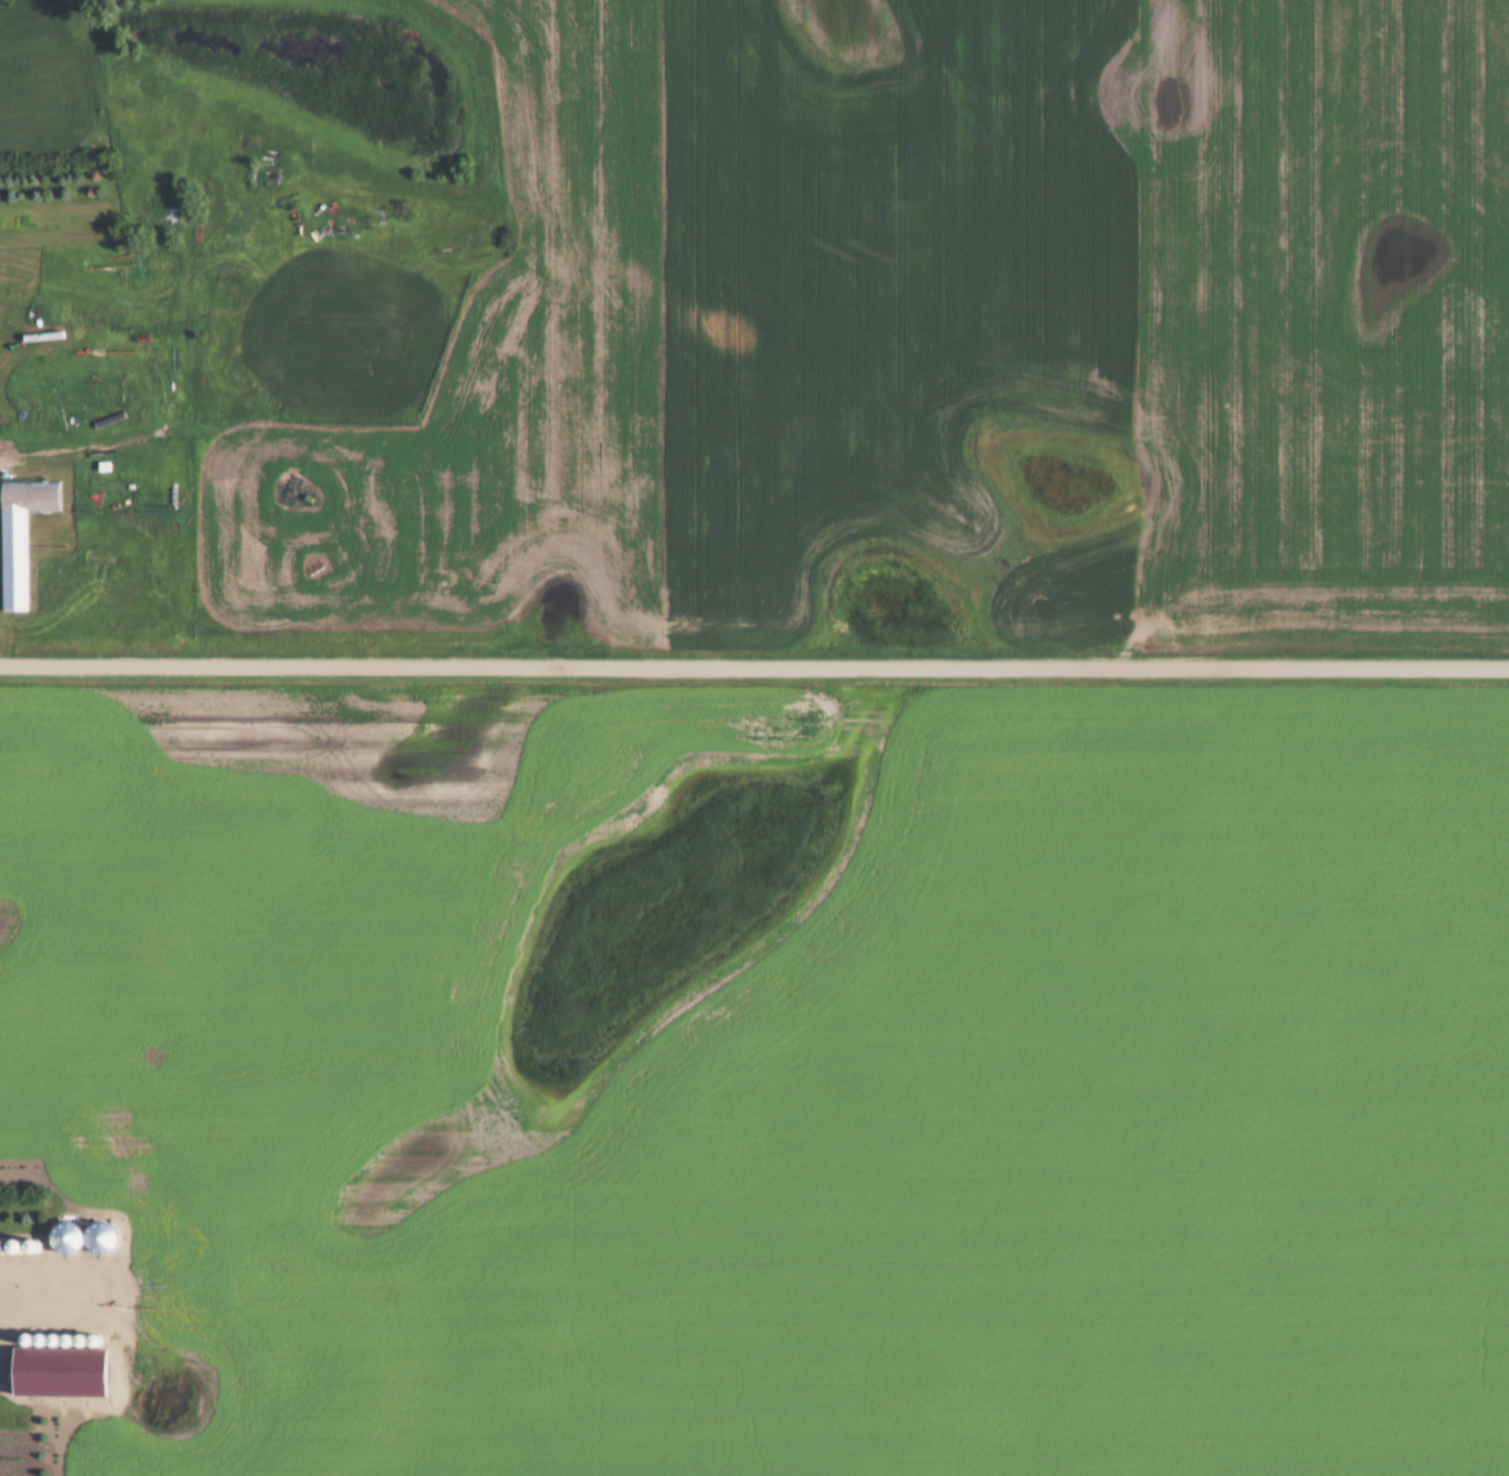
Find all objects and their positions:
building: (22, 534)
road: (754, 662)

